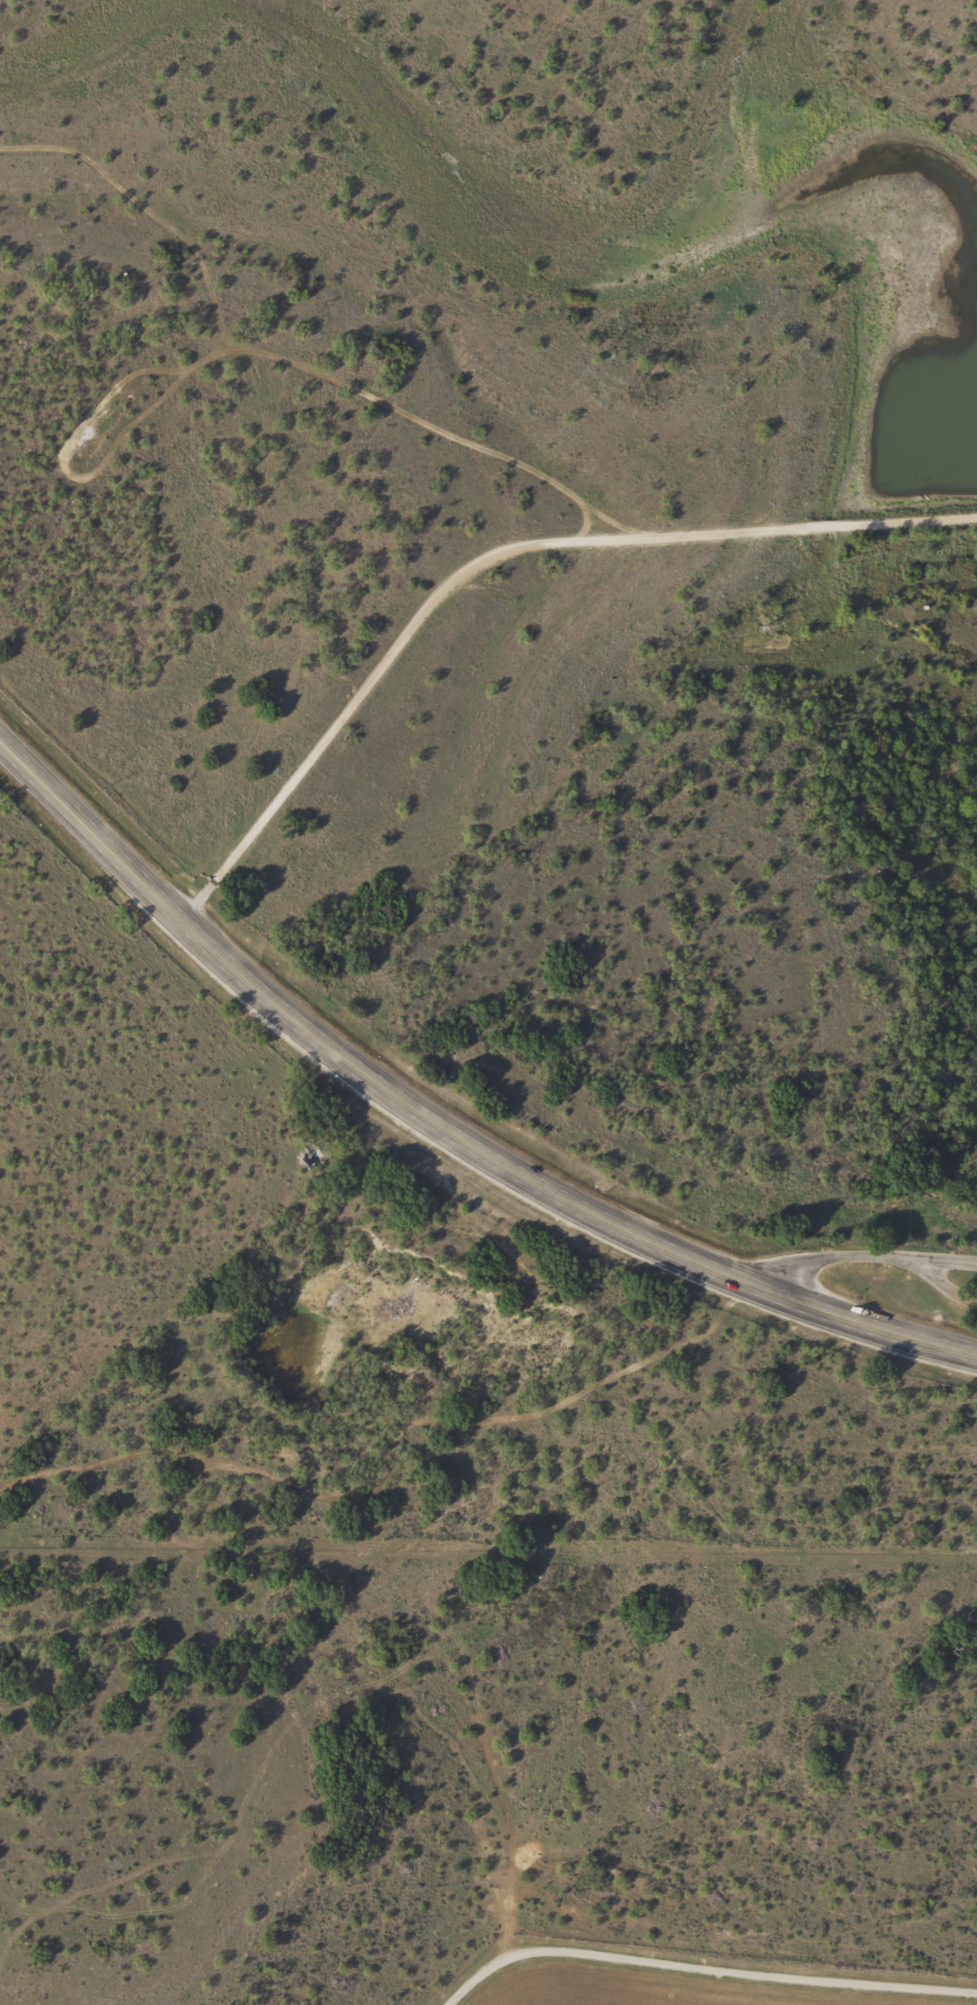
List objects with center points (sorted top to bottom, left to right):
road: (492, 556)
road: (212, 955)
building: (308, 1158)
road: (825, 1258)
road: (939, 1259)
road: (703, 1270)
road: (938, 1282)
road: (700, 1966)

